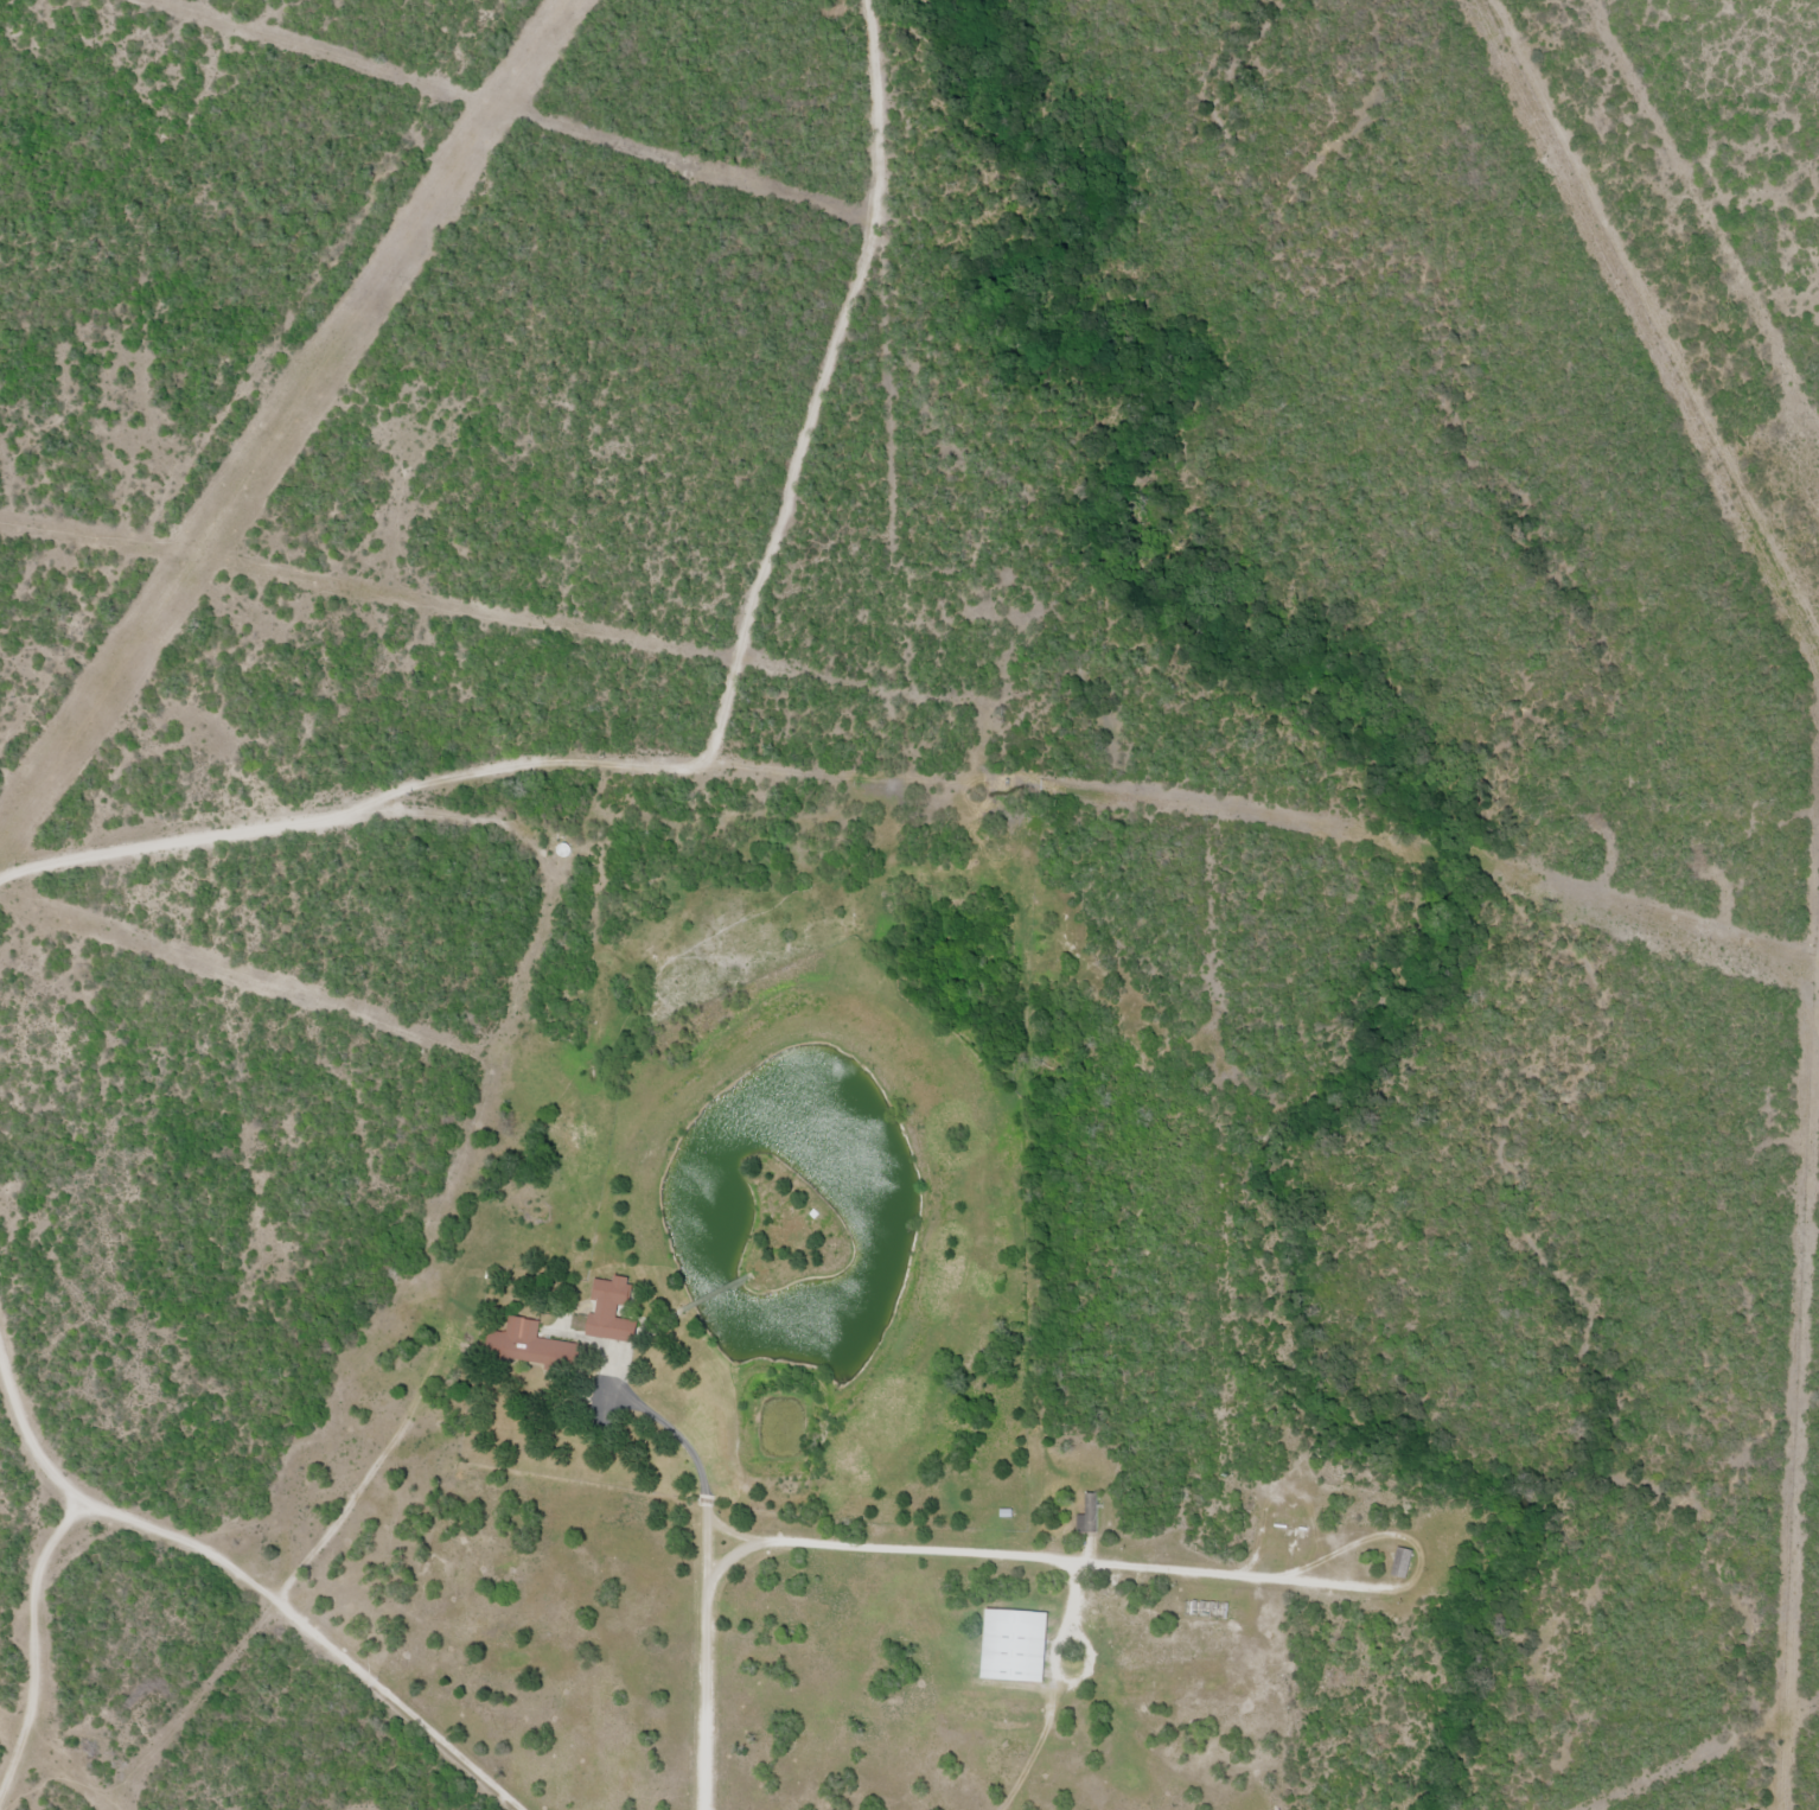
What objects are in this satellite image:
building: (608, 1312)
building: (528, 1346)
building: (1086, 1516)
building: (1399, 1563)
road: (241, 1578)
building: (1111, 1623)
building: (1013, 1646)

